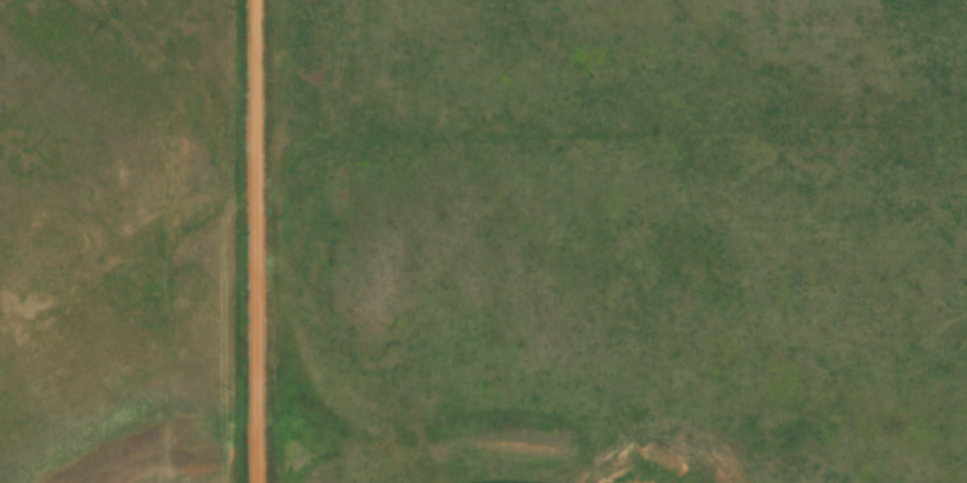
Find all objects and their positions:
road: (256, 241)

